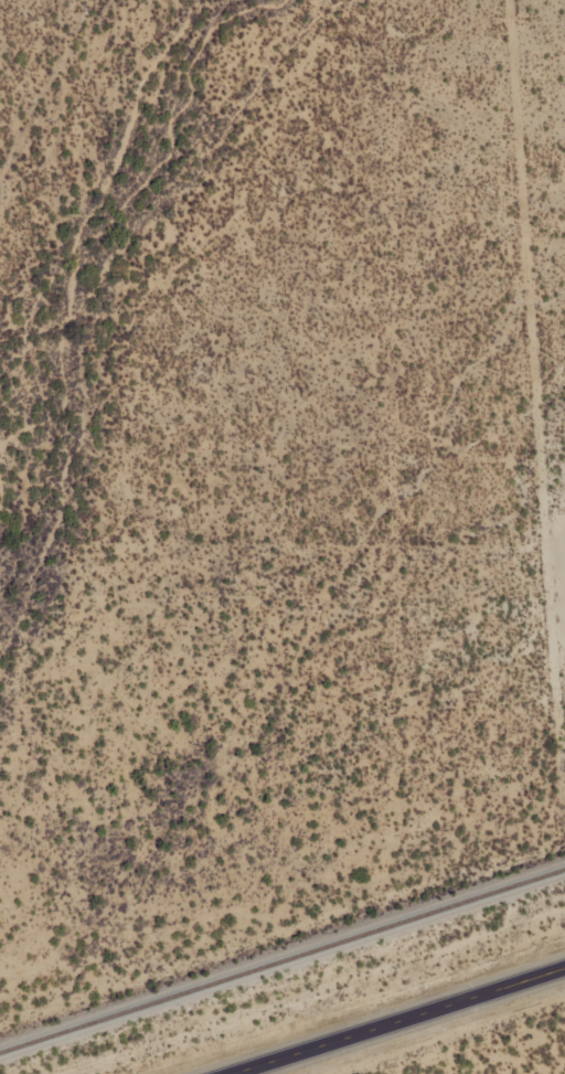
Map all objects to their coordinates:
railway: (282, 961)
road: (386, 1017)

